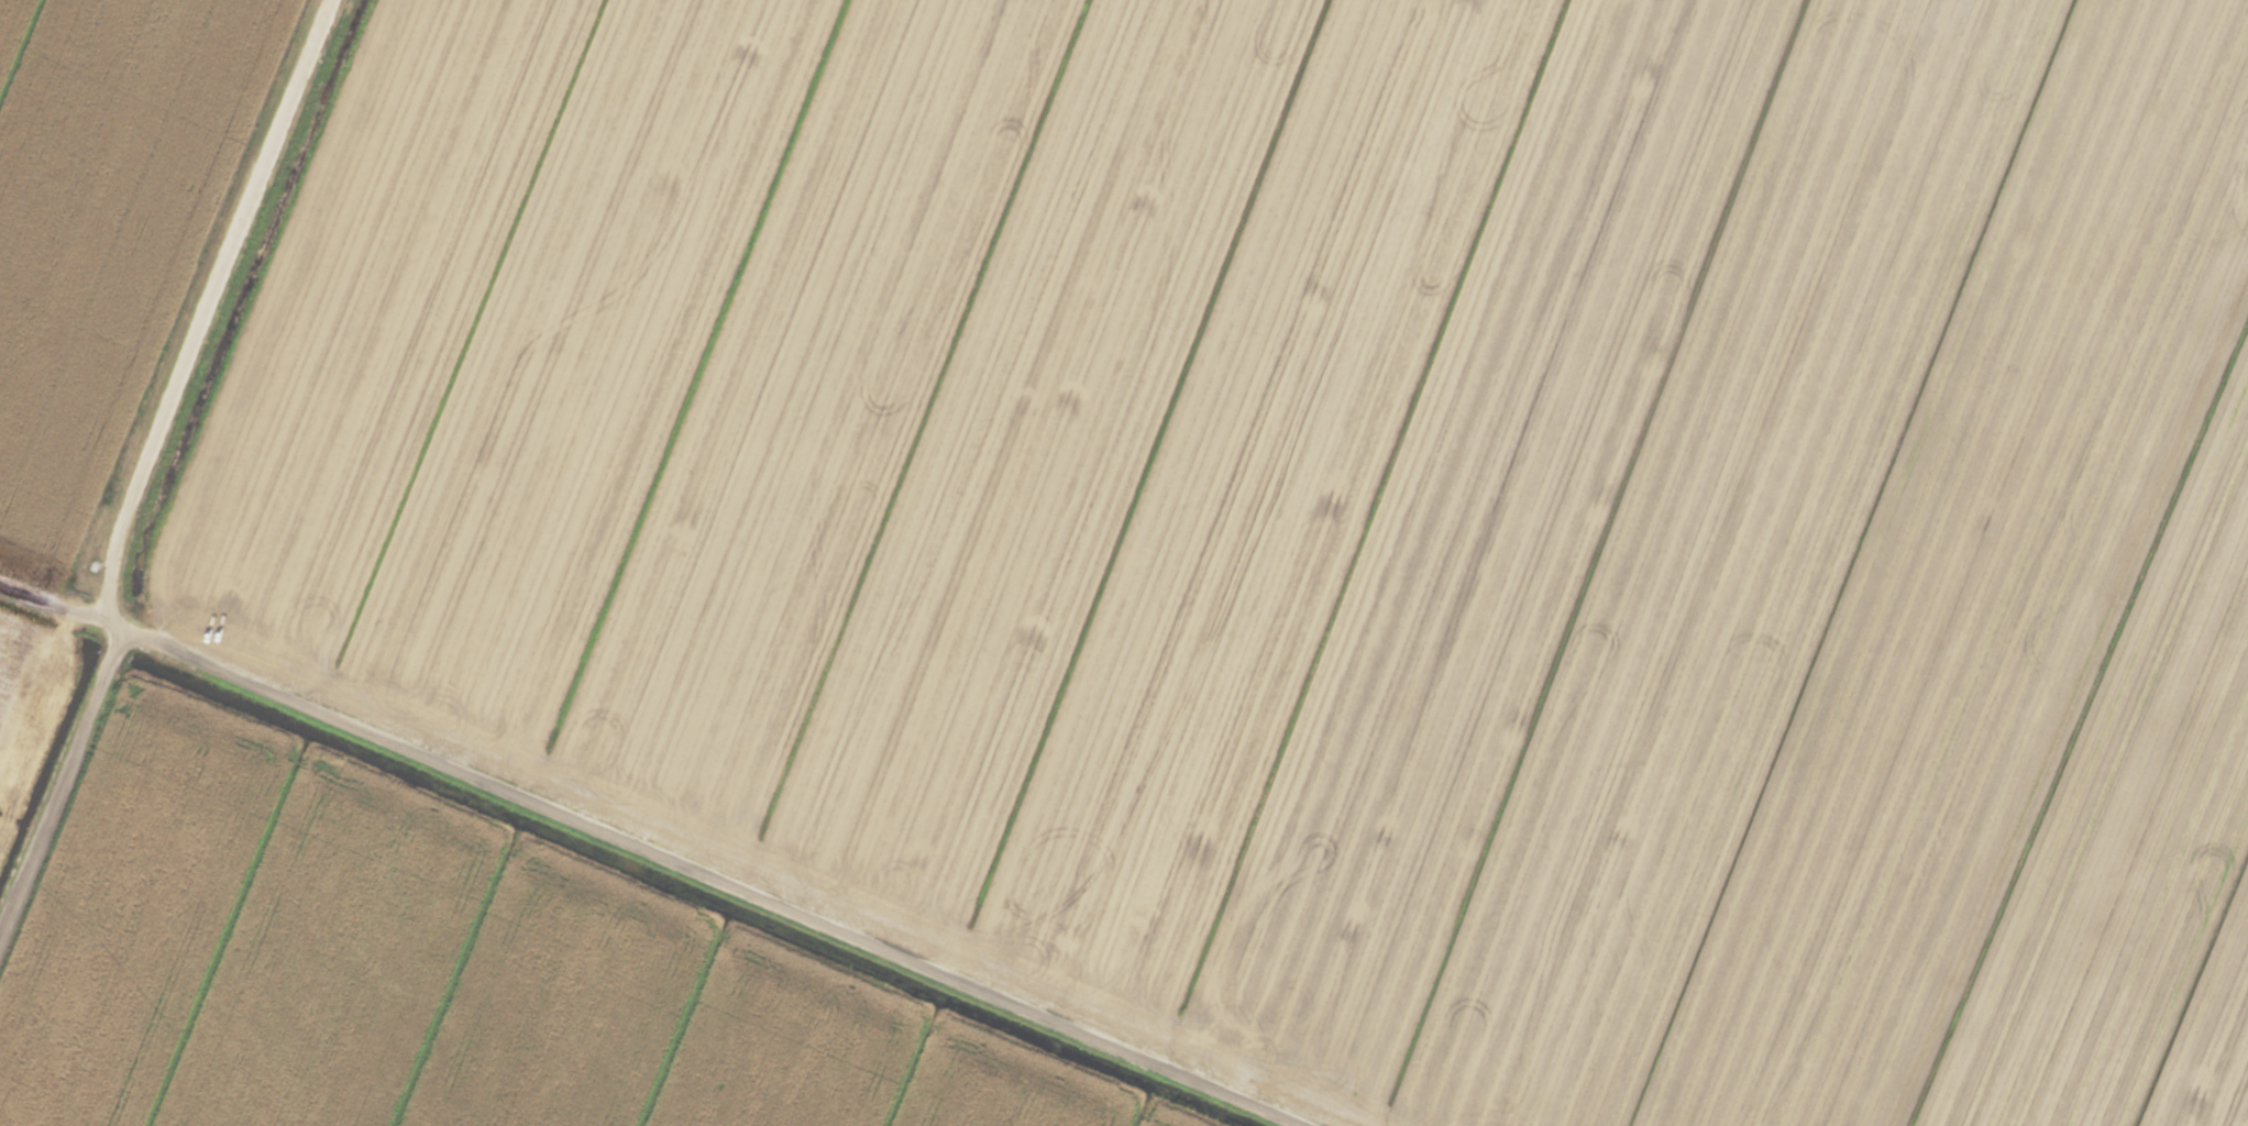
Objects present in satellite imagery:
road: (137, 483)
crop: (1124, 563)
road: (752, 868)

